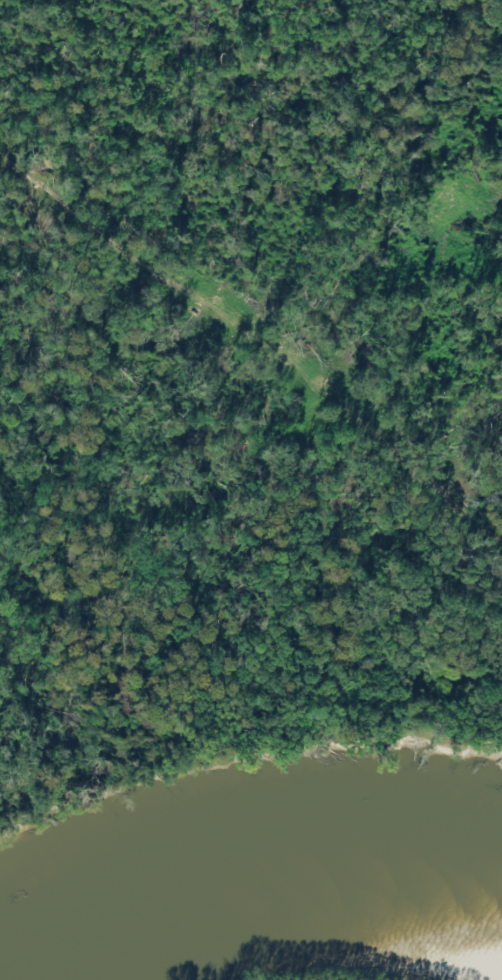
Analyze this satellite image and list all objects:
river: (243, 858)

